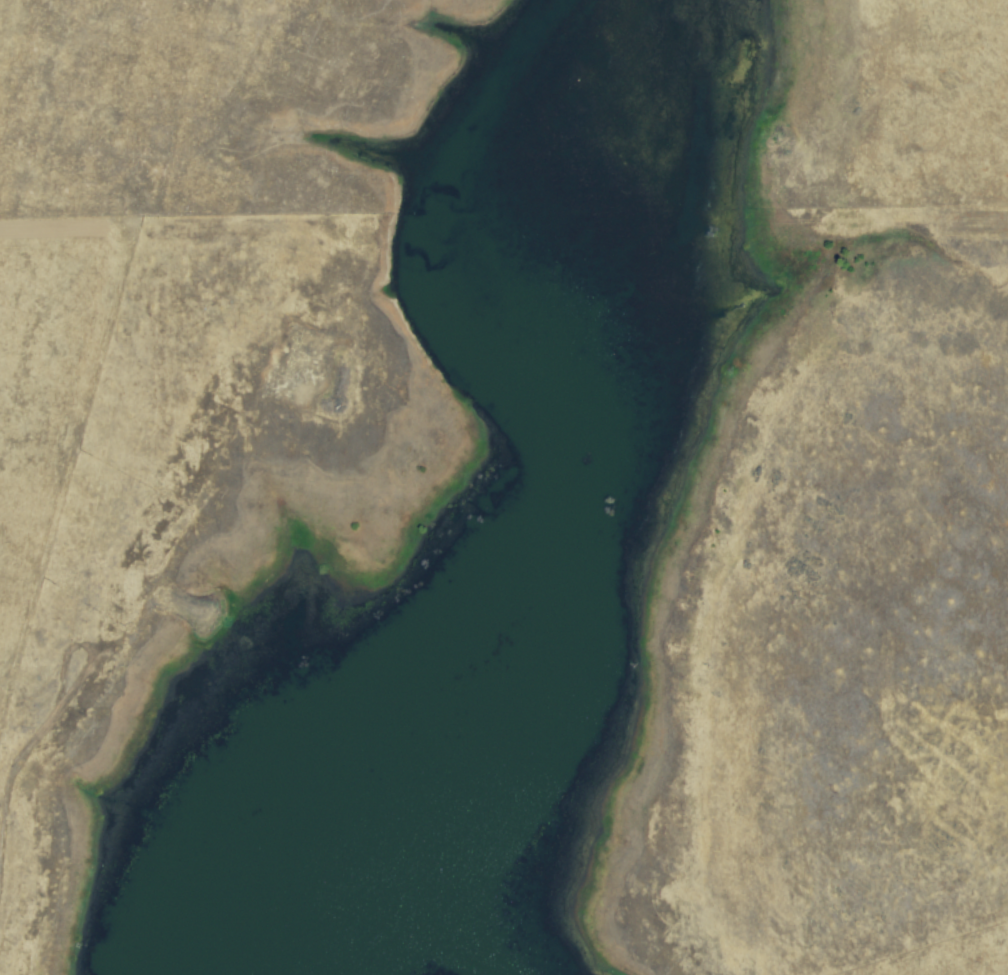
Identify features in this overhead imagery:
airport: (506, 598)
road: (11, 774)

